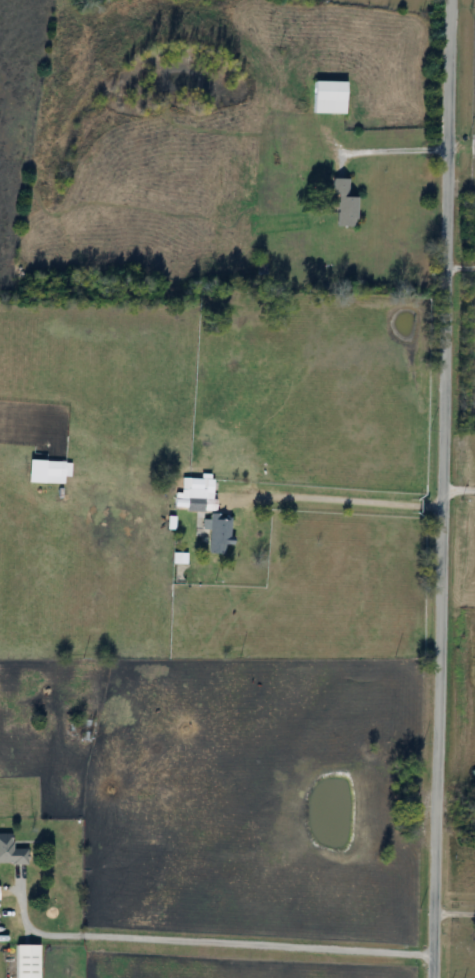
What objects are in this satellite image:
building: (325, 97)
road: (395, 151)
building: (341, 205)
building: (259, 263)
road: (461, 268)
building: (53, 473)
road: (442, 489)
building: (192, 495)
road: (337, 498)
building: (214, 535)
building: (10, 853)
road: (454, 912)
road: (204, 939)
building: (22, 961)

